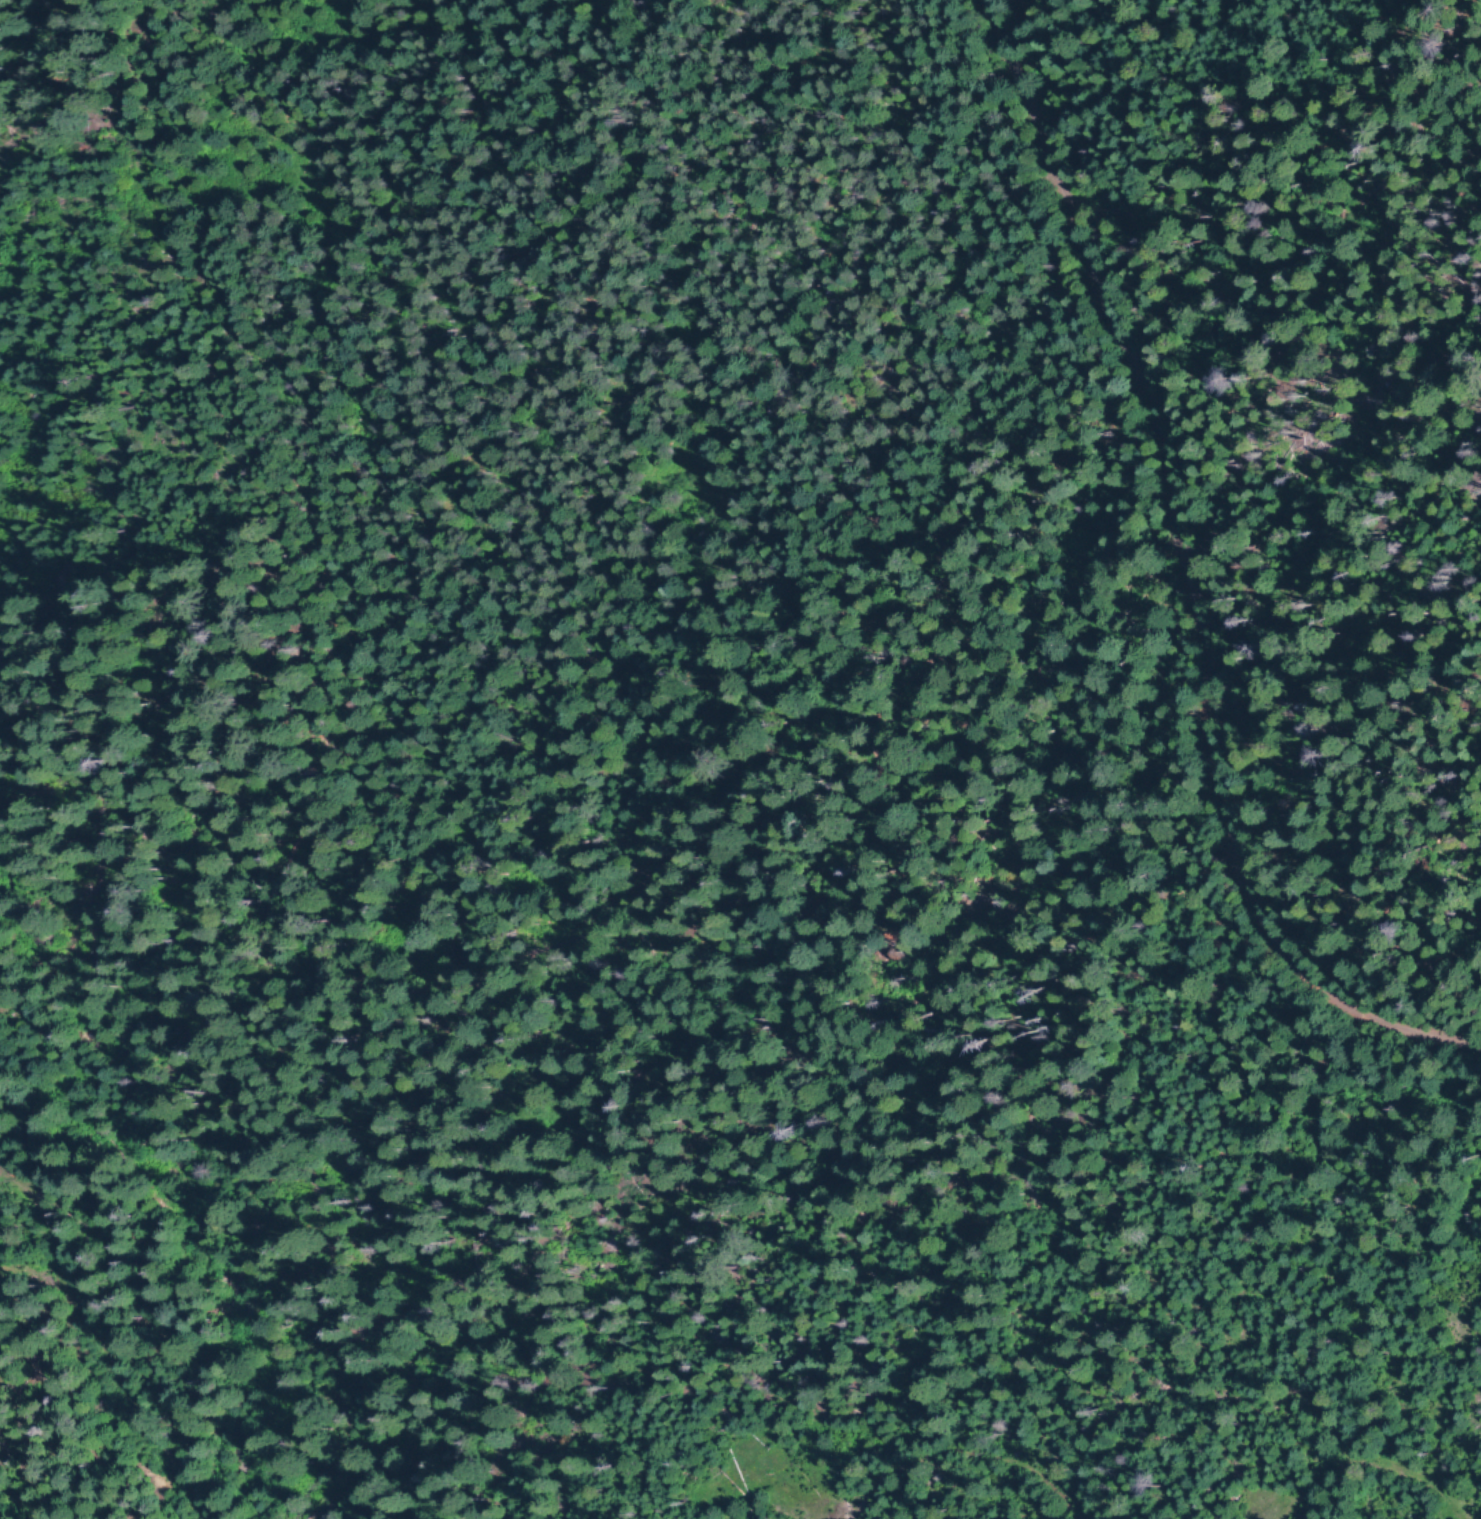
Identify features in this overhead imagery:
road: (1183, 580)
road: (108, 1345)
road: (949, 1453)
road: (1370, 1467)

